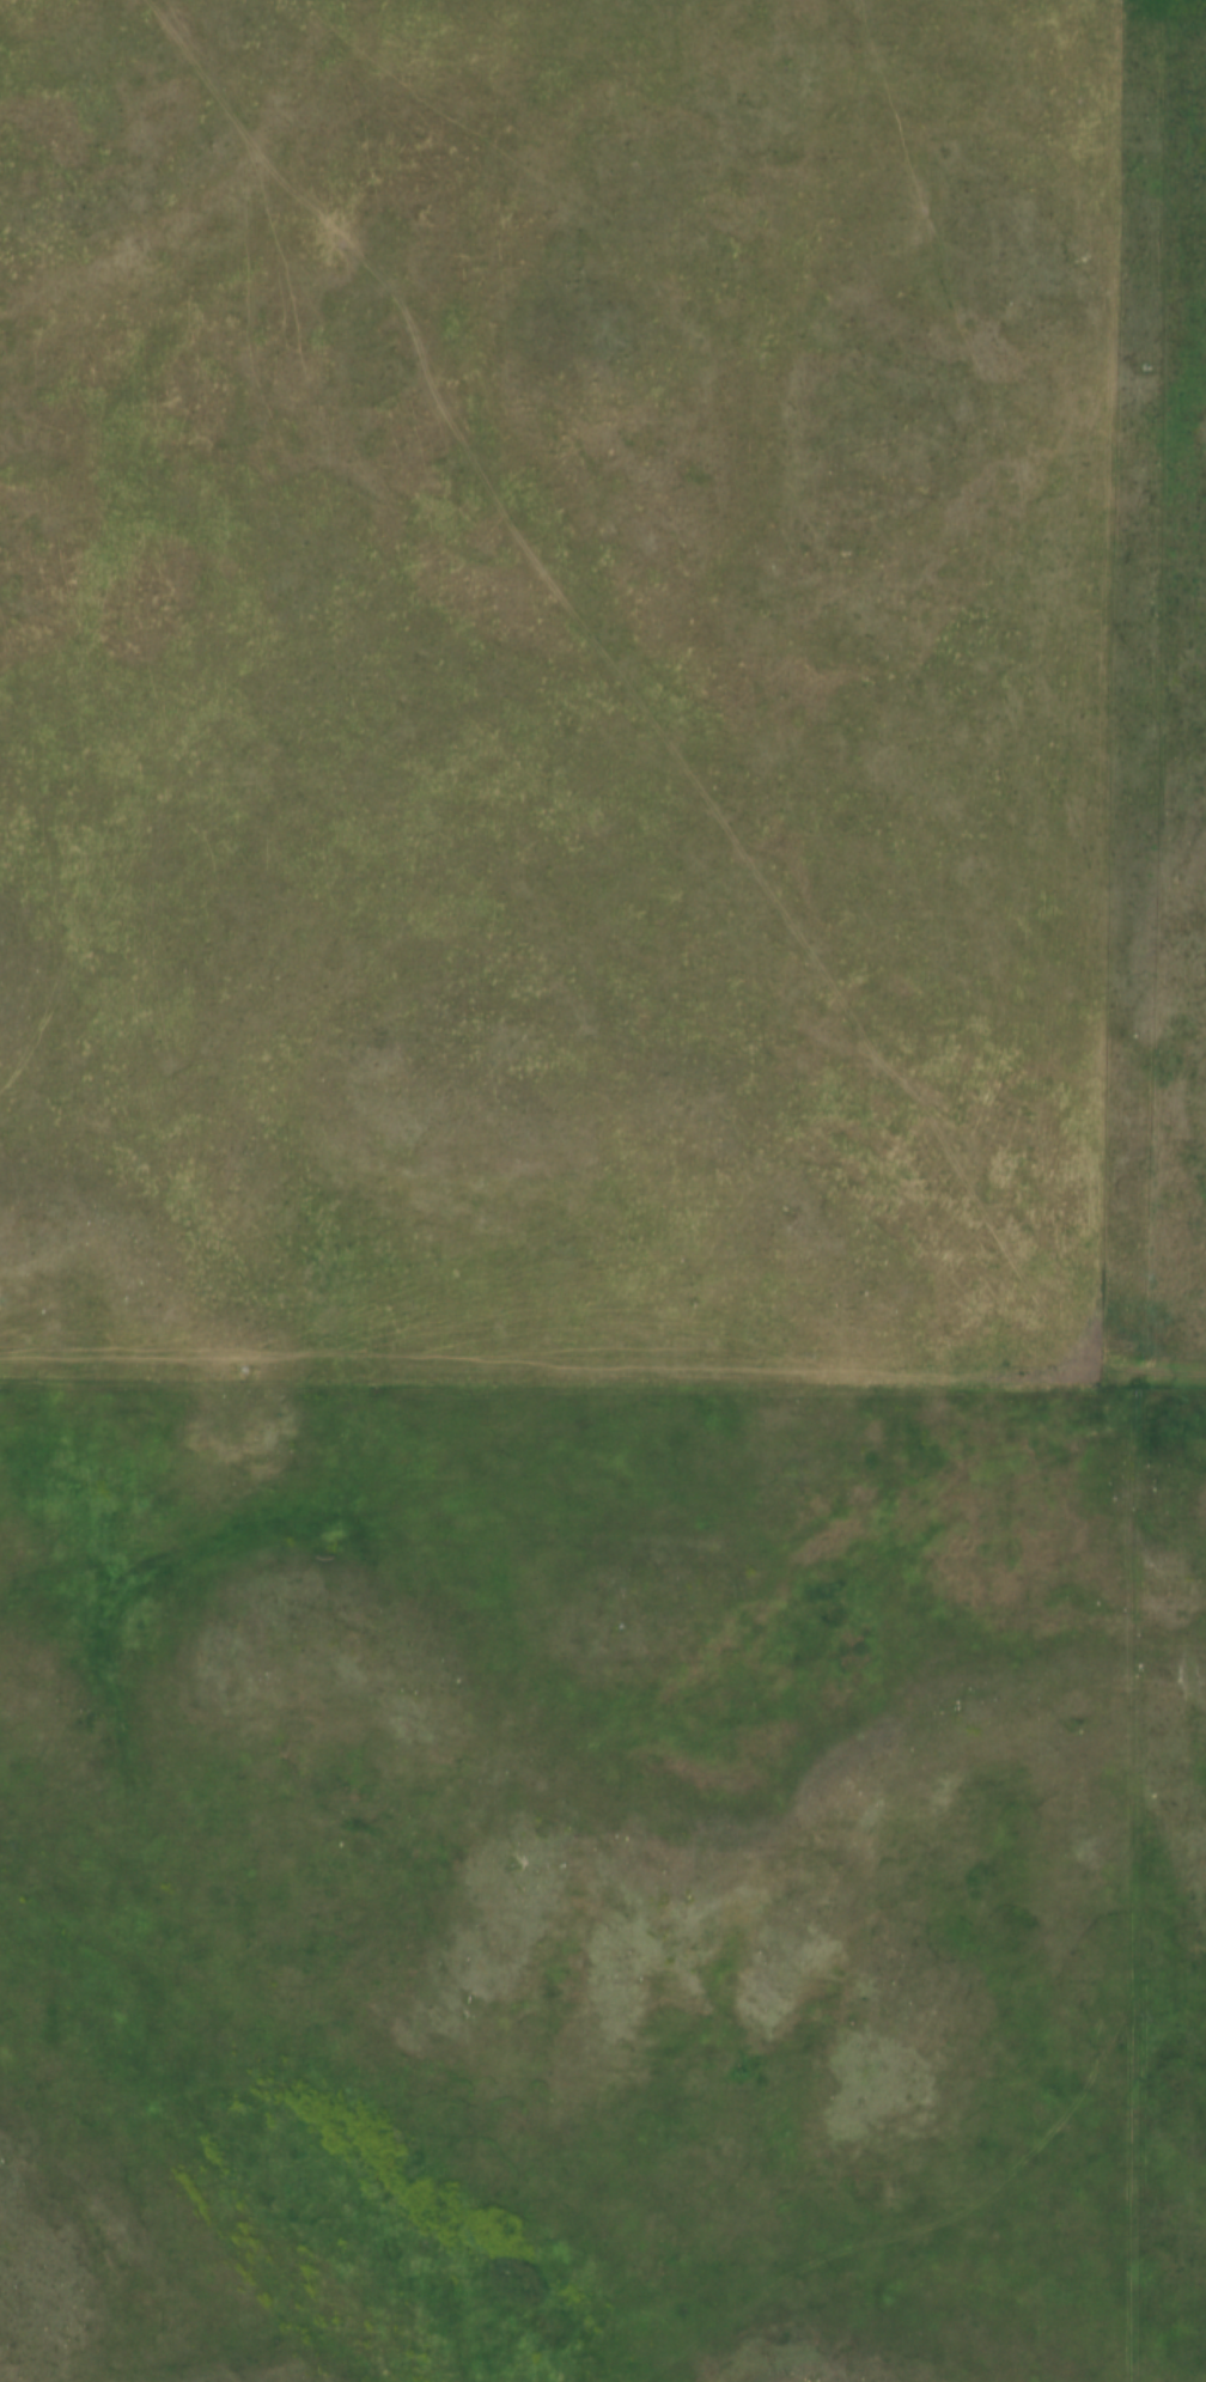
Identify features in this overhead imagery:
road: (1086, 1190)

